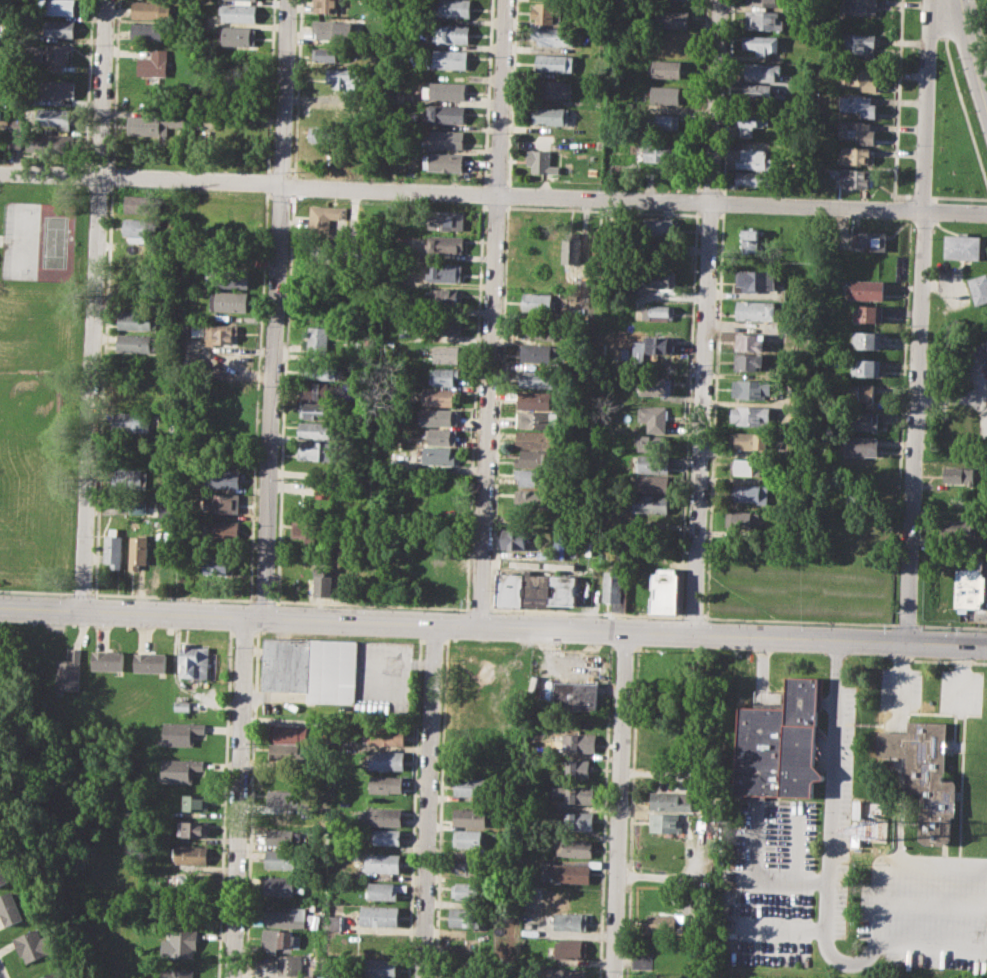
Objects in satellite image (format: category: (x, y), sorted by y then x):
building: (761, 2)
building: (329, 6)
building: (57, 7)
building: (857, 7)
building: (452, 8)
building: (150, 10)
building: (238, 12)
building: (544, 13)
building: (671, 19)
building: (761, 19)
building: (59, 28)
building: (330, 29)
building: (149, 32)
building: (453, 33)
building: (237, 34)
building: (556, 36)
building: (760, 42)
building: (857, 42)
street lamp: (916, 52)
road: (970, 53)
building: (332, 54)
building: (53, 55)
street lamp: (956, 58)
building: (447, 59)
building: (554, 62)
building: (155, 63)
building: (665, 68)
building: (761, 70)
building: (860, 77)
building: (343, 79)
building: (555, 88)
building: (58, 89)
building: (449, 90)
building: (755, 90)
road: (512, 92)
building: (665, 95)
road: (727, 97)
building: (858, 104)
road: (896, 105)
building: (446, 113)
road: (963, 114)
building: (550, 115)
building: (57, 117)
building: (663, 122)
building: (153, 123)
building: (750, 123)
building: (856, 131)
building: (324, 133)
park: (955, 133)
building: (446, 138)
building: (13, 139)
building: (31, 140)
building: (59, 142)
street lamp: (913, 144)
building: (663, 152)
building: (854, 155)
building: (754, 159)
building: (540, 161)
building: (442, 162)
building: (852, 178)
building: (750, 180)
road: (493, 193)
road: (507, 194)
road: (919, 195)
road: (958, 196)
street lamp: (889, 198)
street lamp: (969, 201)
road: (722, 202)
building: (140, 204)
road: (495, 206)
road: (505, 207)
road: (601, 210)
road: (707, 212)
road: (720, 213)
building: (325, 216)
building: (446, 220)
building: (139, 226)
building: (660, 227)
street lamp: (912, 229)
park: (21, 240)
building: (750, 240)
building: (867, 240)
park: (57, 241)
building: (445, 243)
building: (603, 245)
building: (572, 247)
building: (963, 247)
building: (444, 272)
building: (231, 278)
building: (657, 279)
building: (756, 280)
building: (580, 288)
building: (866, 288)
building: (979, 288)
building: (444, 298)
building: (229, 301)
building: (537, 302)
road: (93, 305)
road: (277, 309)
building: (755, 309)
road: (492, 312)
building: (658, 312)
building: (868, 313)
road: (704, 317)
building: (135, 320)
road: (916, 322)
building: (447, 326)
street lamp: (909, 326)
building: (199, 328)
building: (539, 329)
building: (222, 334)
building: (319, 339)
building: (867, 339)
building: (986, 341)
building: (749, 342)
building: (135, 343)
building: (658, 345)
building: (447, 353)
building: (538, 353)
building: (748, 361)
building: (866, 367)
building: (319, 370)
building: (444, 376)
building: (539, 379)
park: (41, 382)
building: (655, 385)
building: (751, 388)
building: (322, 390)
building: (132, 391)
building: (862, 392)
building: (440, 397)
building: (536, 400)
road: (475, 405)
building: (319, 410)
road: (687, 415)
building: (751, 415)
building: (439, 416)
building: (654, 417)
building: (861, 419)
building: (538, 420)
building: (133, 421)
building: (319, 429)
park: (30, 430)
building: (442, 436)
building: (537, 439)
building: (750, 440)
building: (653, 442)
building: (860, 445)
road: (498, 447)
building: (319, 450)
building: (439, 456)
building: (536, 458)
building: (652, 463)
building: (746, 466)
building: (959, 475)
building: (131, 477)
building: (535, 478)
building: (224, 480)
building: (651, 483)
building: (323, 491)
building: (750, 493)
building: (532, 498)
building: (853, 500)
building: (650, 503)
building: (224, 504)
building: (137, 507)
road: (710, 509)
building: (741, 519)
building: (962, 528)
building: (222, 529)
building: (309, 530)
building: (514, 541)
building: (114, 548)
building: (138, 550)
building: (218, 565)
building: (343, 567)
building: (324, 580)
building: (969, 587)
building: (562, 588)
building: (615, 588)
building: (536, 589)
building: (664, 589)
road: (36, 590)
building: (510, 590)
road: (81, 592)
road: (172, 596)
road: (264, 599)
road: (371, 604)
road: (480, 609)
road: (586, 612)
road: (692, 616)
road: (704, 617)
road: (906, 624)
road: (493, 626)
road: (951, 626)
building: (108, 660)
building: (194, 661)
building: (150, 662)
building: (311, 668)
building: (69, 670)
road: (900, 673)
road: (961, 676)
parking lot: (900, 688)
parking lot: (961, 690)
building: (576, 696)
building: (182, 705)
building: (289, 732)
building: (181, 733)
building: (388, 736)
building: (582, 742)
building: (780, 743)
building: (289, 753)
building: (388, 760)
building: (578, 768)
building: (180, 769)
building: (926, 774)
building: (285, 779)
building: (387, 783)
building: (472, 786)
road: (834, 790)
building: (576, 794)
road: (240, 797)
building: (287, 798)
road: (430, 801)
building: (673, 801)
building: (196, 803)
road: (621, 805)
building: (472, 815)
building: (386, 816)
building: (580, 820)
building: (666, 823)
building: (193, 828)
road: (900, 832)
building: (386, 836)
building: (282, 837)
building: (469, 839)
road: (755, 842)
road: (796, 843)
building: (574, 847)
building: (191, 855)
building: (281, 858)
building: (382, 862)
road: (893, 863)
building: (471, 864)
building: (574, 872)
building: (3, 874)
parking lot: (770, 879)
road: (783, 879)
building: (182, 880)
building: (282, 885)
building: (386, 890)
building: (469, 891)
road: (933, 904)
building: (10, 908)
parking lot: (925, 909)
building: (380, 915)
building: (287, 917)
building: (466, 917)
building: (337, 921)
building: (570, 921)
building: (663, 923)
road: (781, 928)
building: (280, 940)
building: (33, 945)
building: (181, 945)
road: (935, 946)
building: (570, 947)
building: (642, 959)
road: (852, 961)
building: (290, 963)
building: (379, 968)
building: (568, 972)
building: (176, 973)
building: (53, 975)

